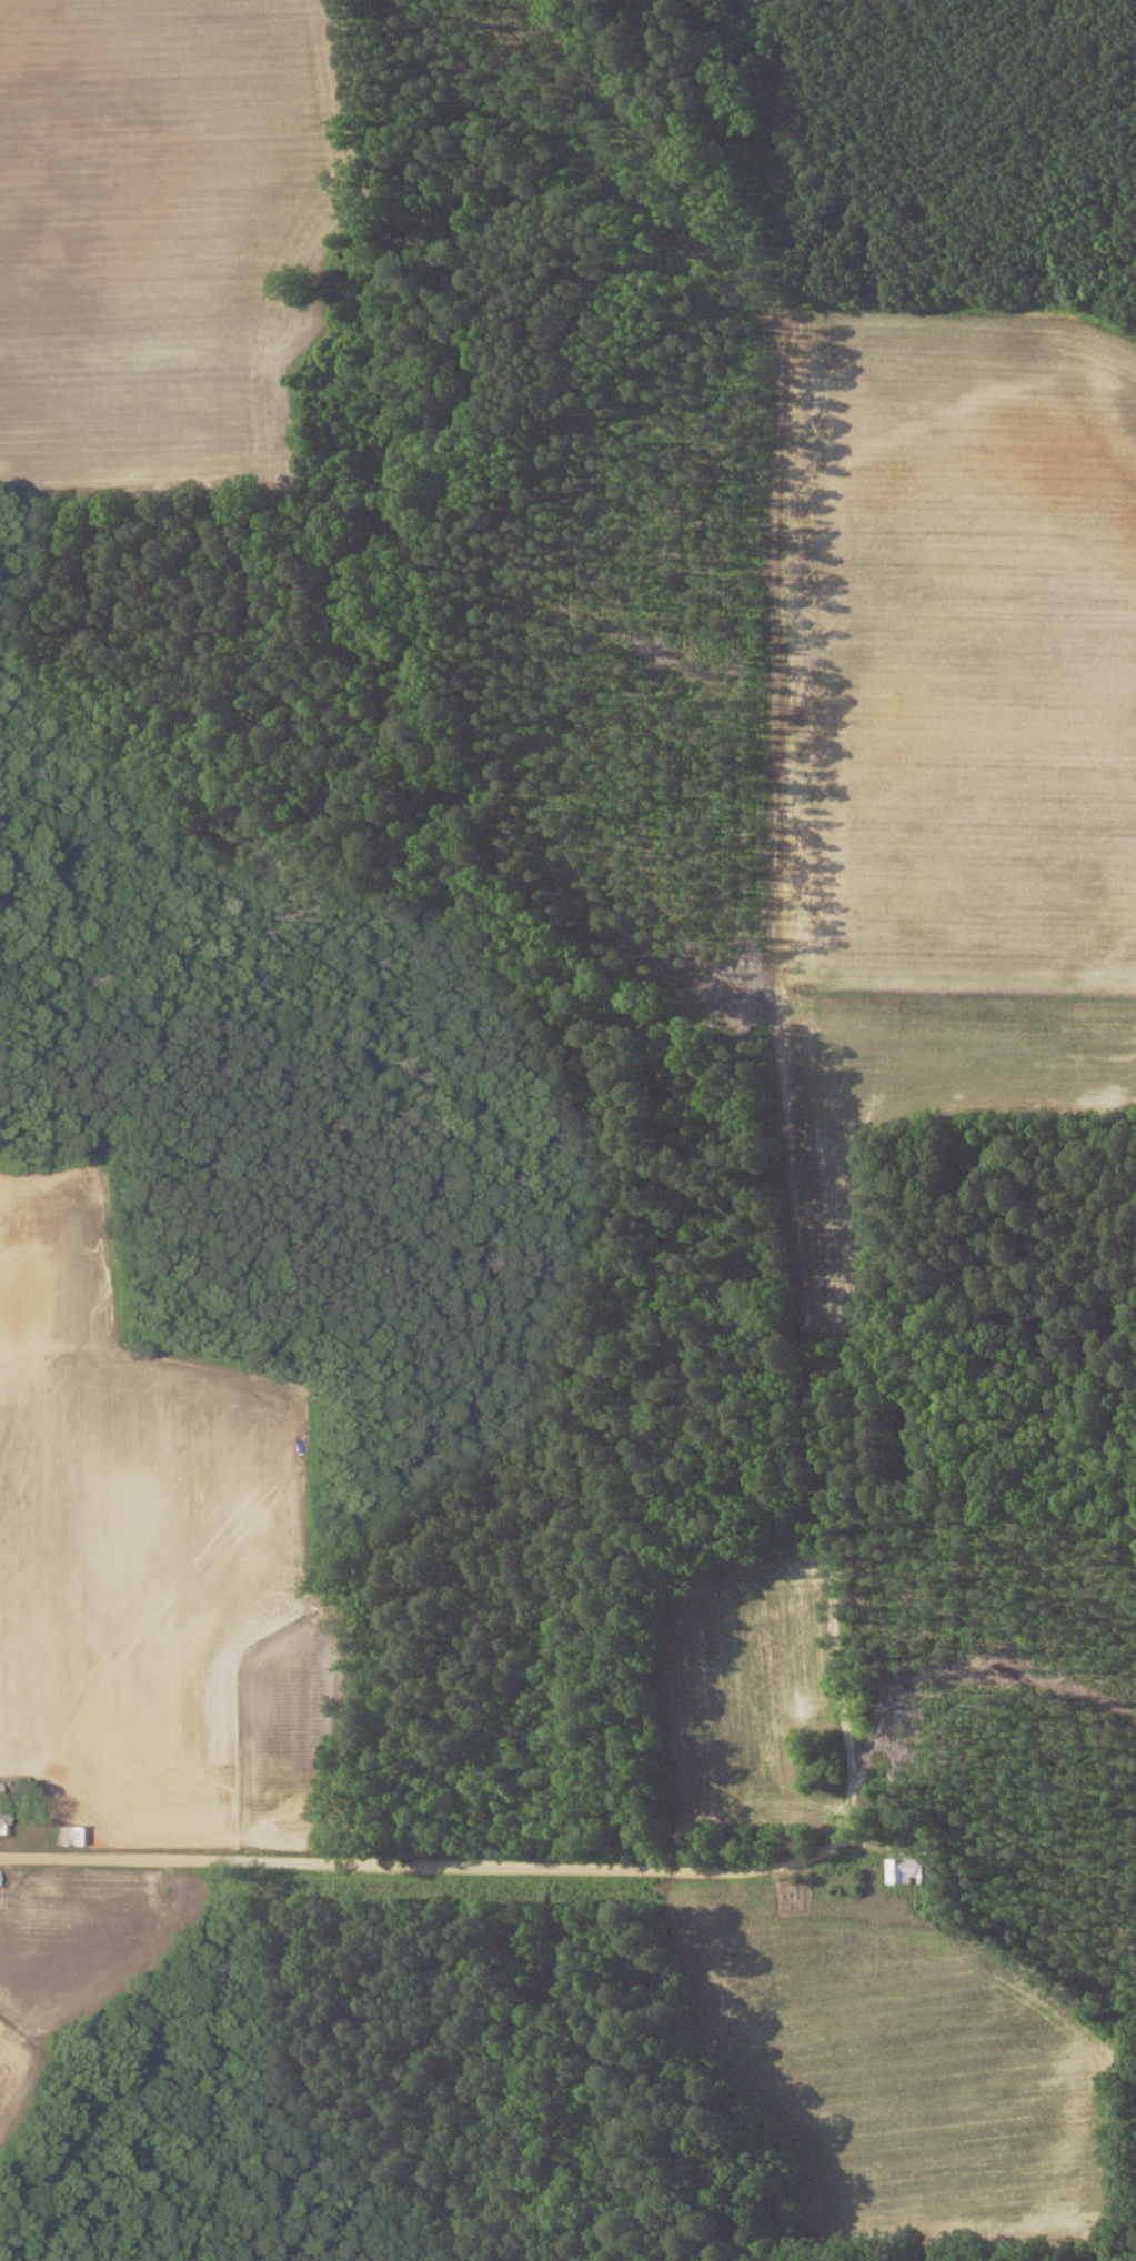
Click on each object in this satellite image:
building: (0, 1825)
road: (422, 1865)
building: (909, 1870)

